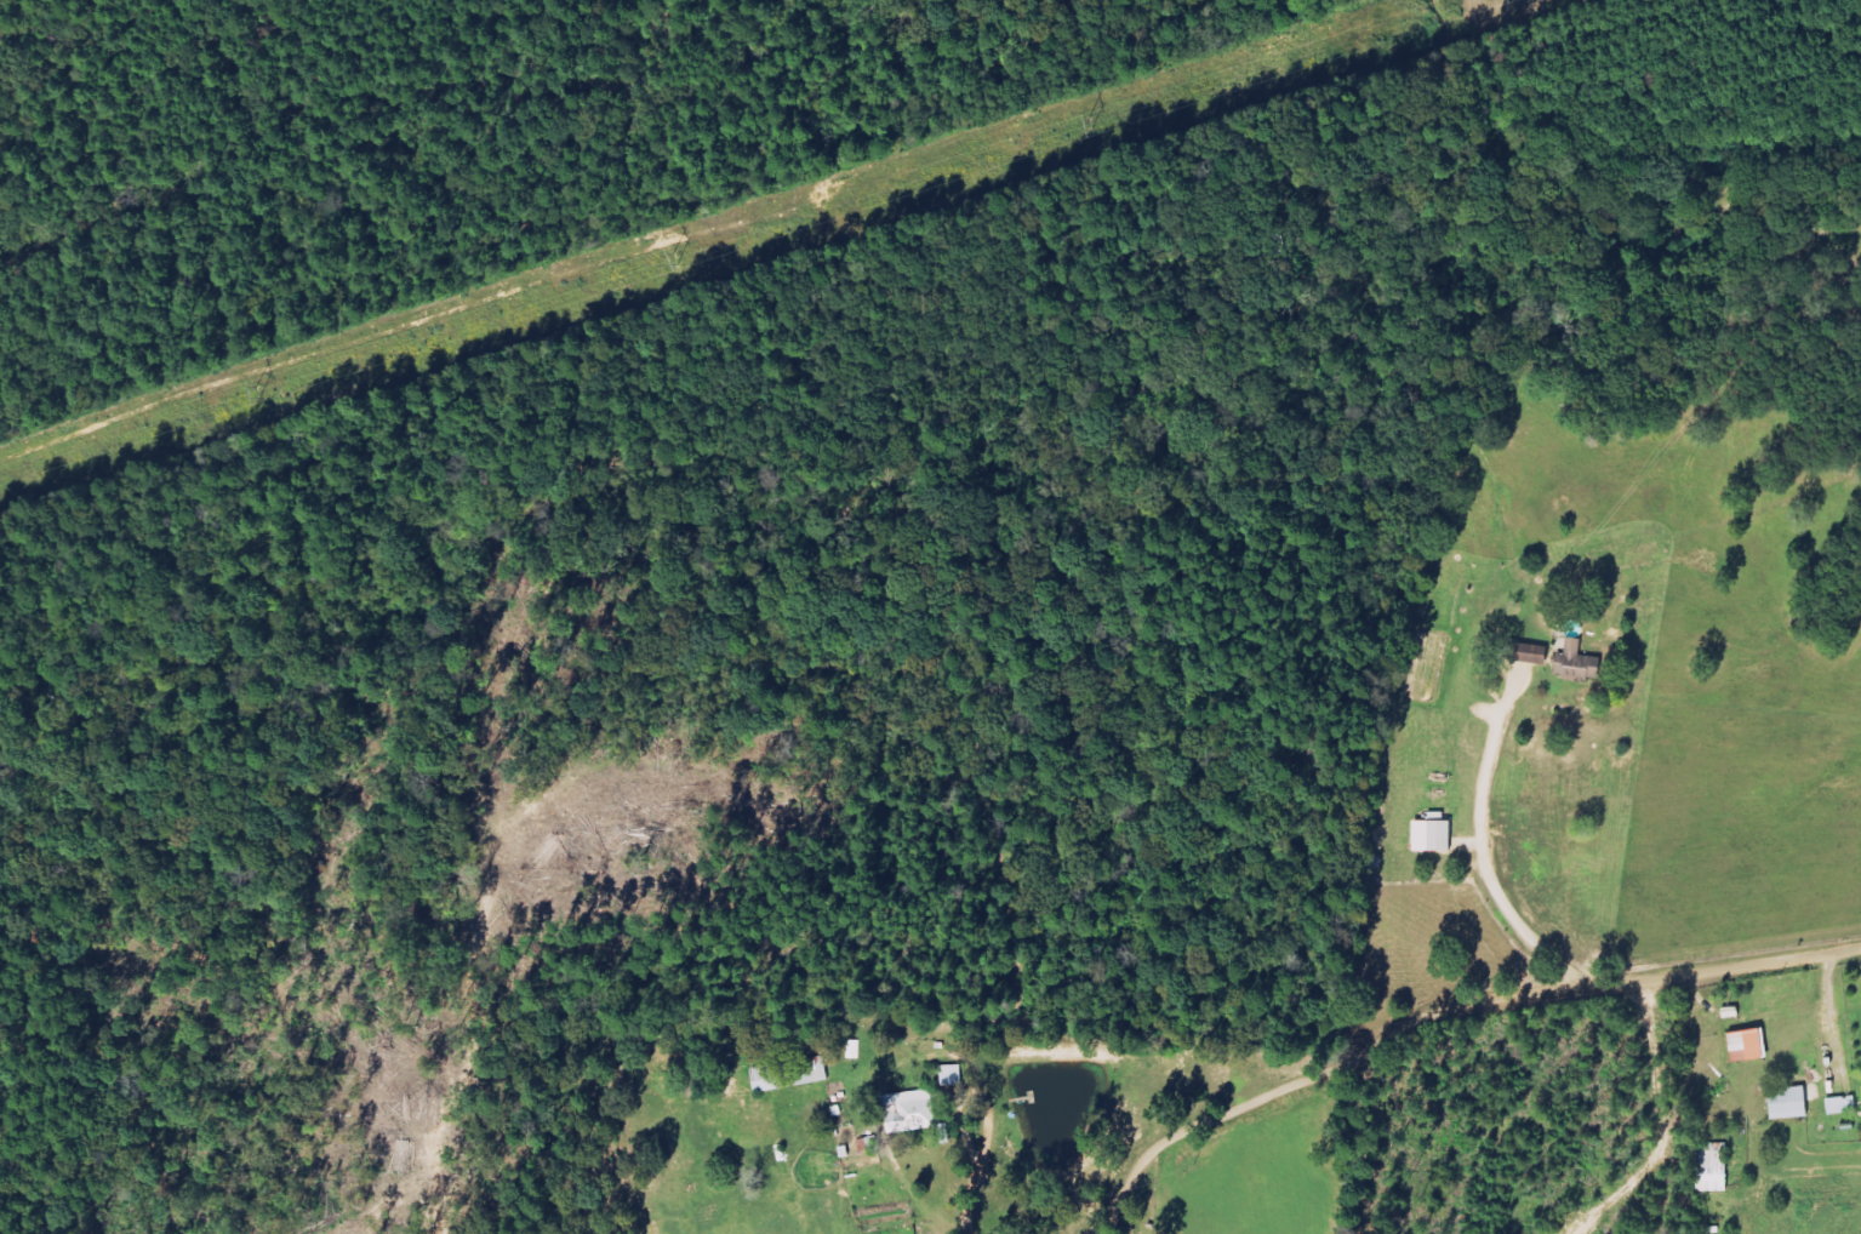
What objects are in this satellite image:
building: (1540, 653)
building: (1582, 663)
building: (1438, 836)
road: (1484, 1044)
building: (1753, 1045)
building: (793, 1074)
building: (1793, 1103)
building: (1846, 1106)
building: (915, 1112)
building: (1718, 1167)
road: (971, 1187)

